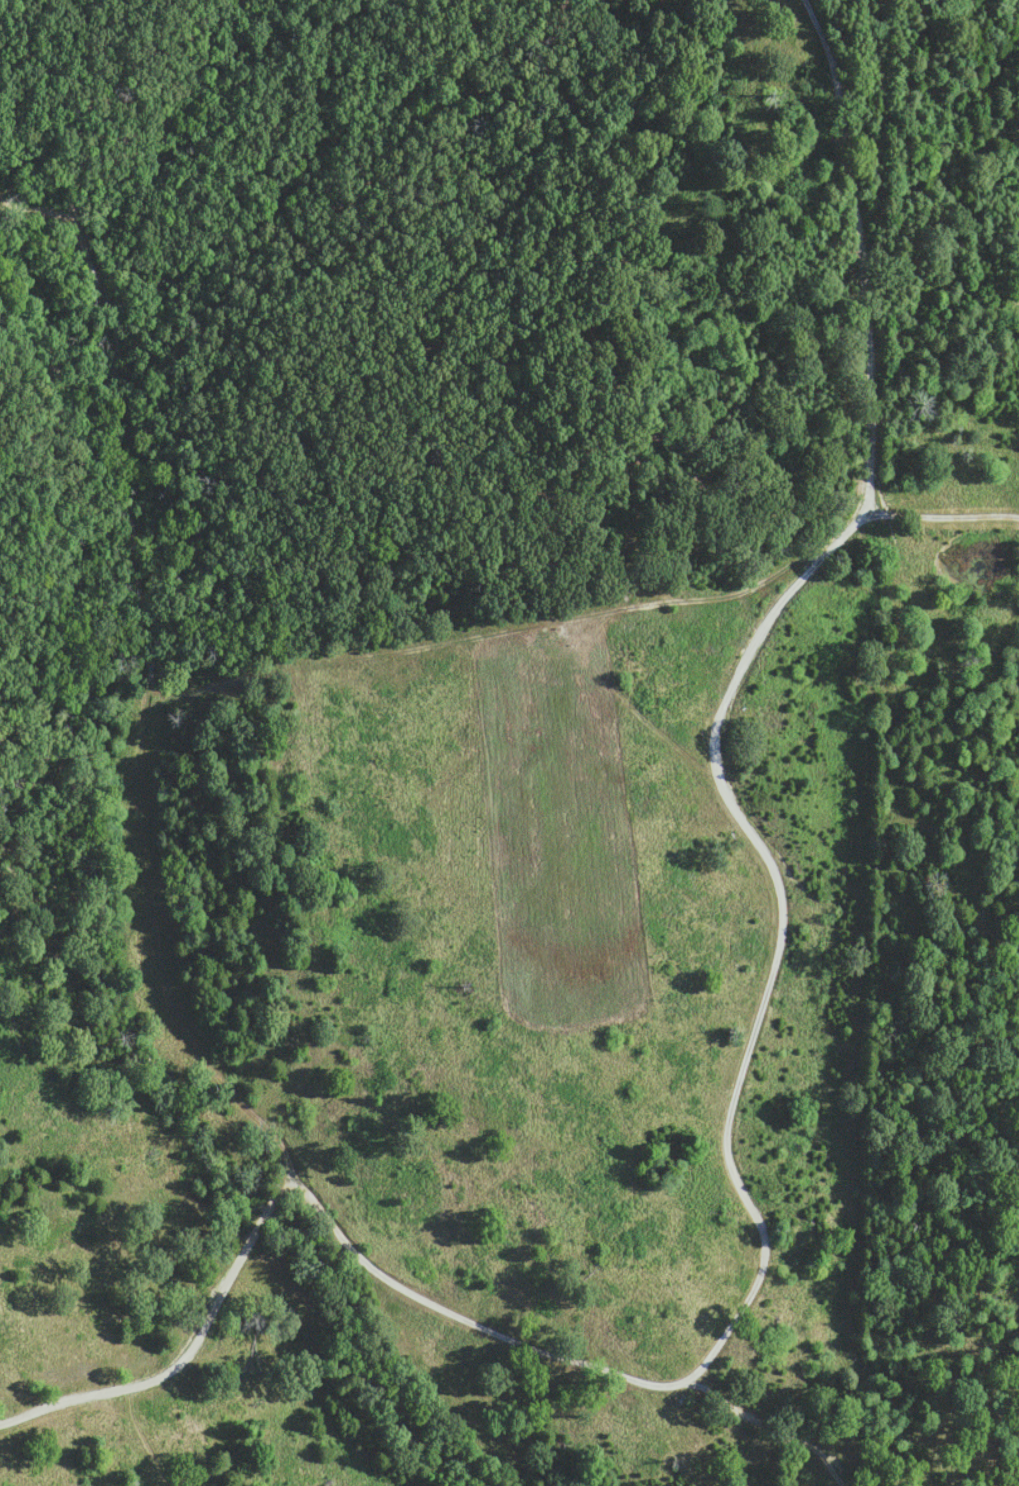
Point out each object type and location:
road: (730, 1075)

